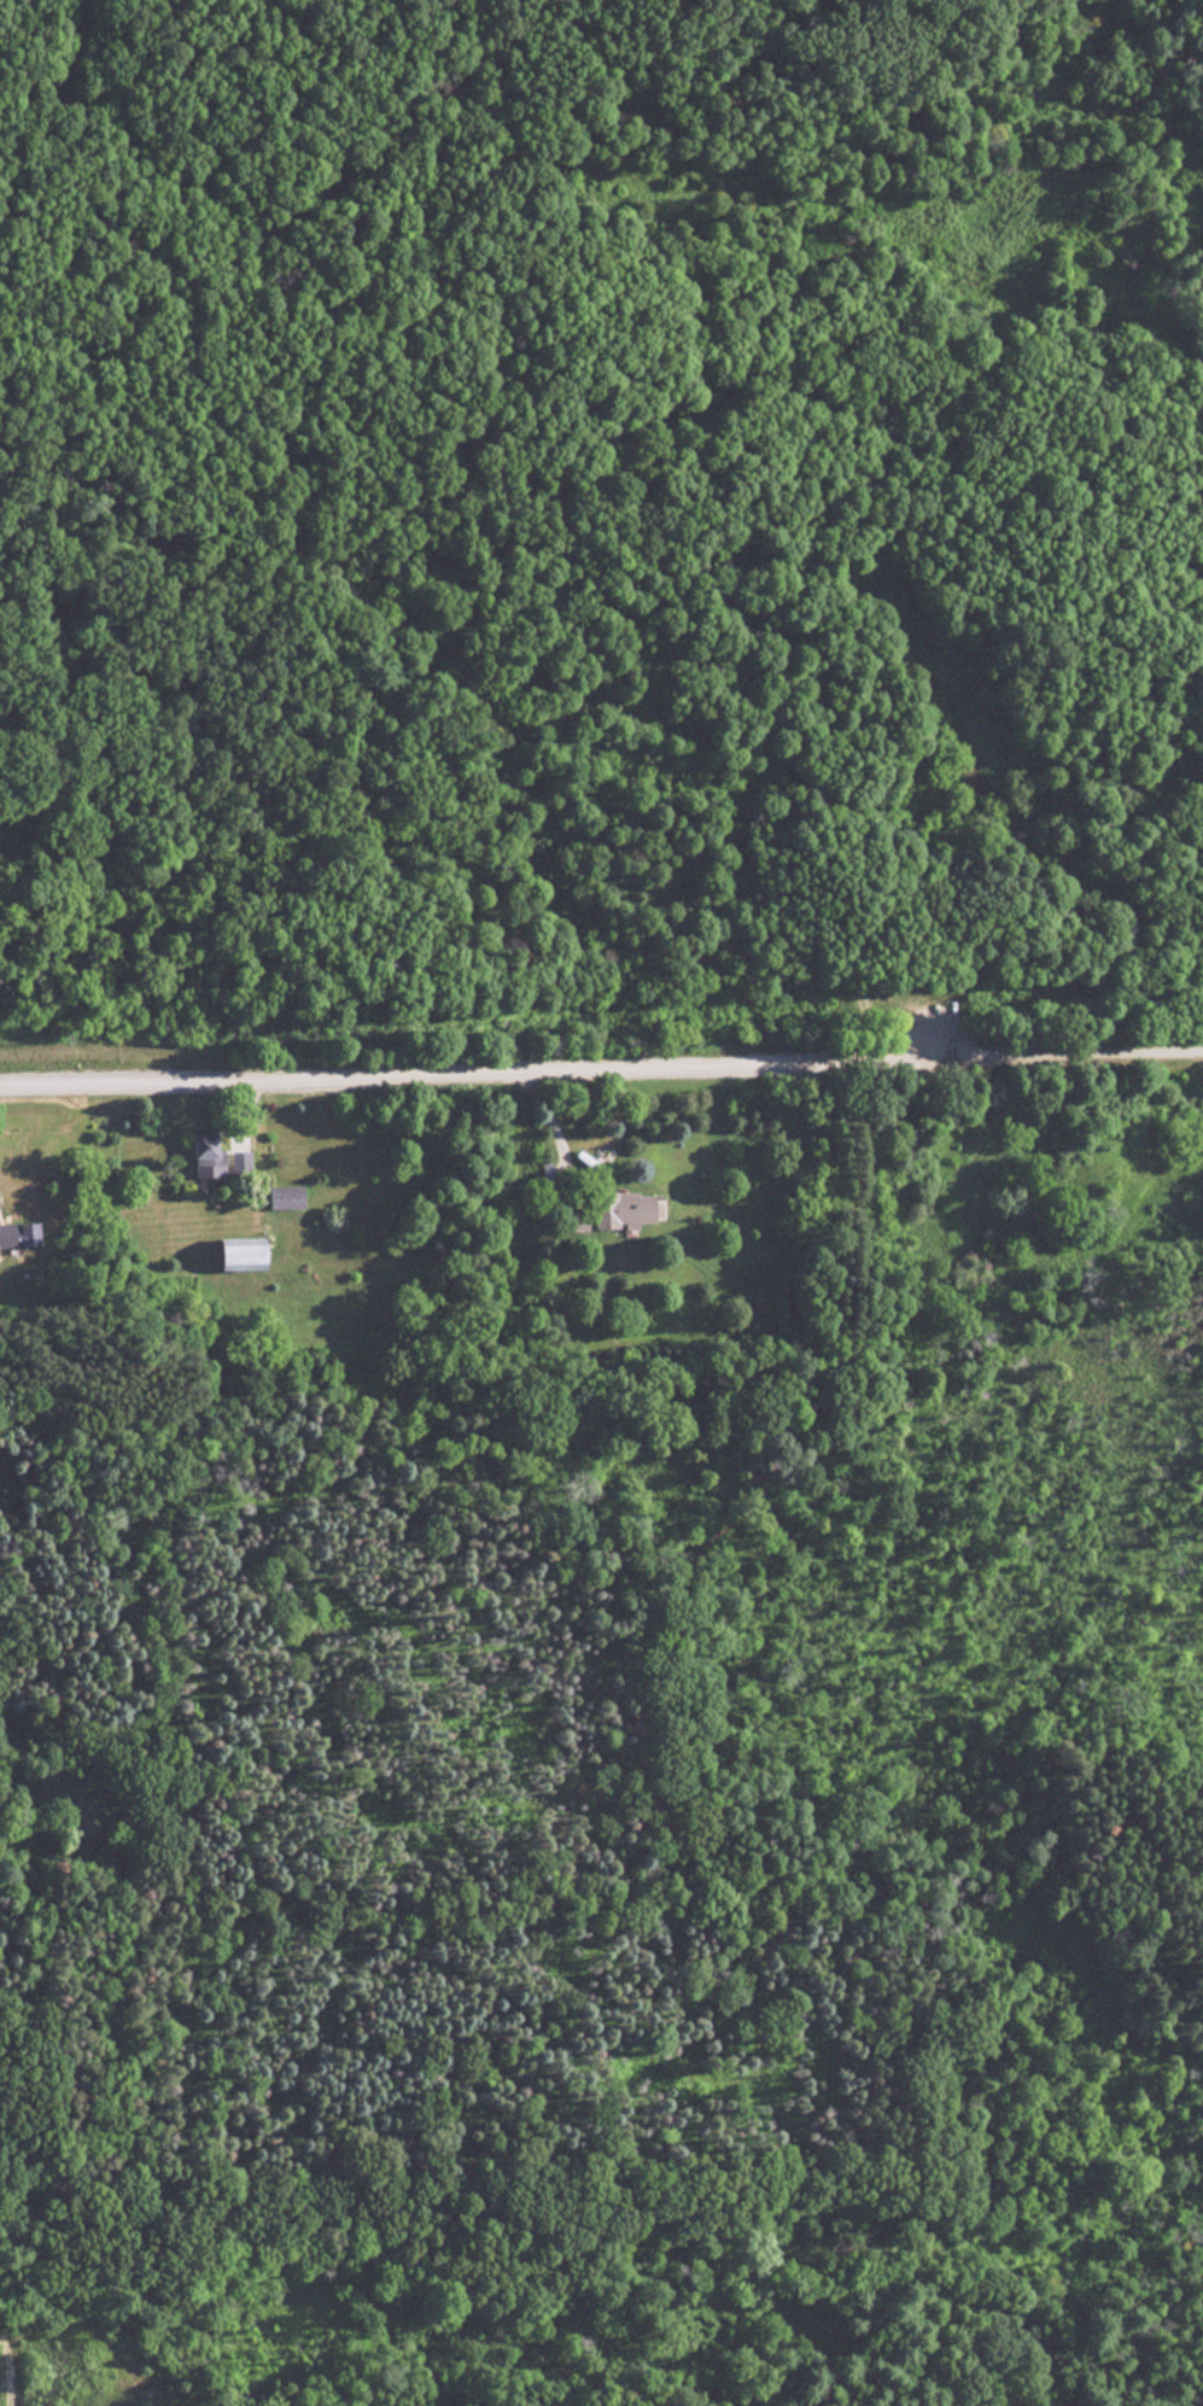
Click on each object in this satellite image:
park: (691, 758)
parking lot: (944, 1044)
road: (1086, 1057)
road: (485, 1070)
building: (211, 1155)
building: (244, 1162)
building: (291, 1196)
building: (629, 1210)
building: (23, 1236)
building: (250, 1254)

